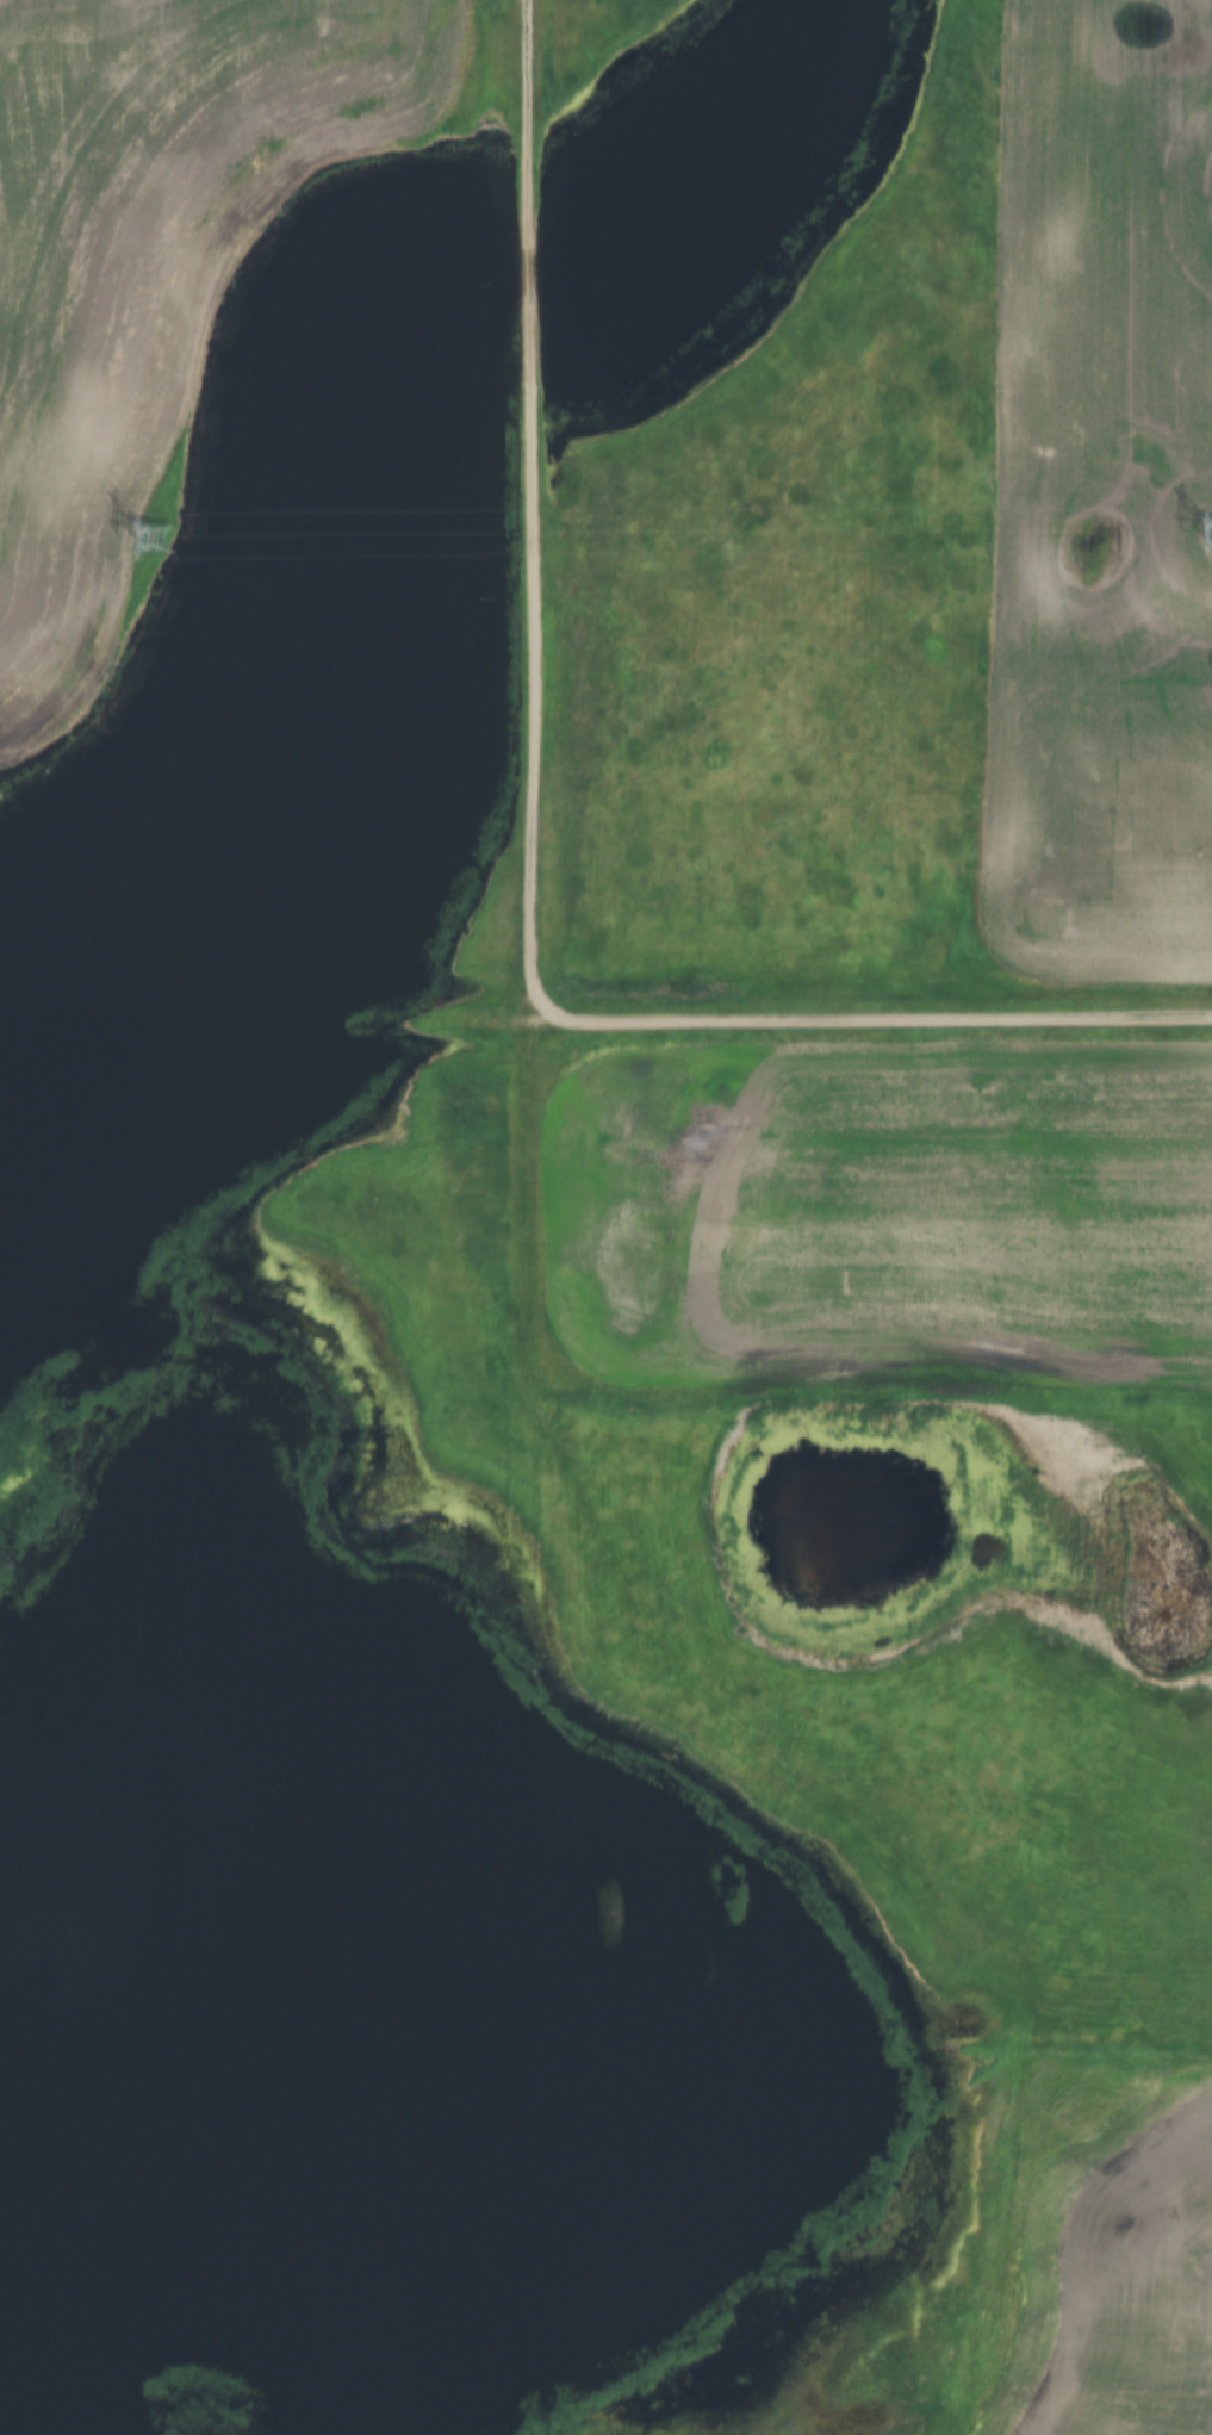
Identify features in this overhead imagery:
road: (528, 513)
power tower: (159, 533)
road: (871, 1021)
road: (265, 1026)

